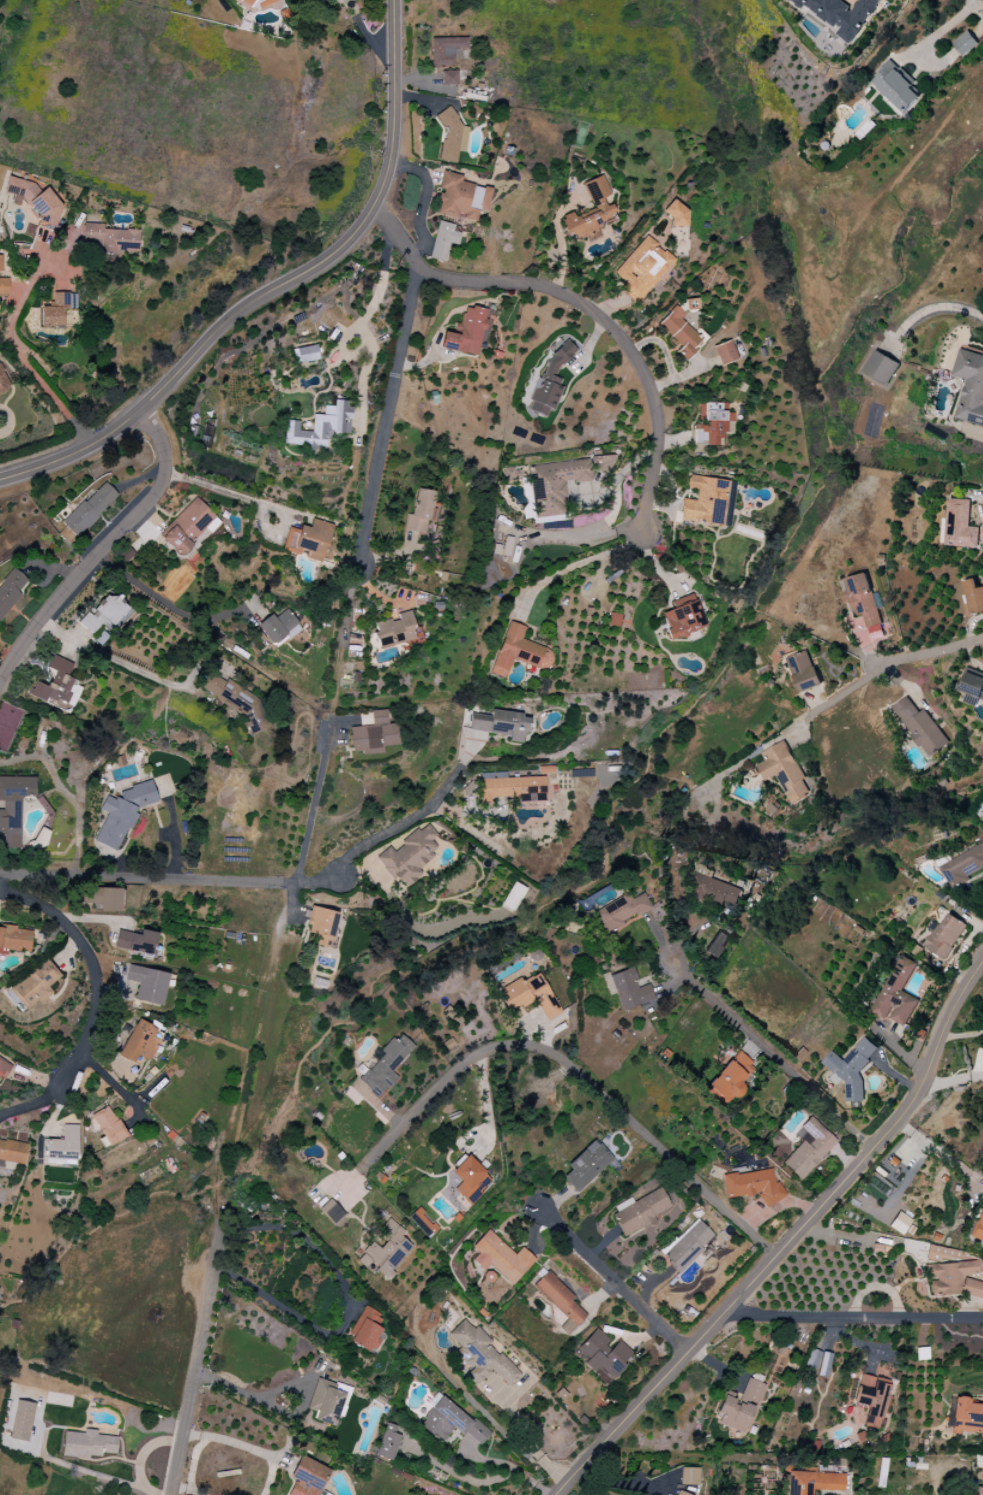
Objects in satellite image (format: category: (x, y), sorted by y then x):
building: (255, 4)
building: (841, 14)
road: (943, 30)
road: (364, 35)
building: (965, 43)
building: (445, 50)
building: (448, 78)
building: (895, 86)
building: (452, 138)
building: (461, 198)
building: (36, 199)
building: (588, 212)
building: (677, 215)
building: (109, 240)
building: (442, 241)
building: (0, 263)
building: (644, 269)
building: (4, 286)
road: (277, 289)
road: (585, 305)
road: (937, 306)
building: (56, 310)
building: (466, 332)
building: (679, 332)
building: (724, 353)
building: (305, 354)
road: (28, 363)
building: (880, 367)
building: (3, 381)
building: (549, 381)
building: (970, 387)
road: (384, 413)
building: (712, 424)
building: (320, 427)
building: (556, 485)
building: (708, 501)
building: (90, 509)
building: (420, 511)
building: (959, 525)
building: (189, 528)
building: (308, 540)
road: (102, 547)
road: (580, 563)
building: (974, 596)
road: (164, 600)
building: (863, 603)
building: (104, 613)
building: (682, 617)
building: (278, 627)
building: (395, 631)
road: (341, 640)
building: (519, 652)
road: (930, 653)
road: (108, 656)
road: (971, 659)
building: (803, 671)
building: (57, 686)
building: (972, 686)
road: (843, 694)
building: (237, 702)
building: (502, 725)
building: (920, 727)
building: (372, 733)
building: (784, 771)
building: (514, 789)
road: (312, 798)
building: (13, 808)
building: (121, 816)
road: (404, 821)
building: (409, 856)
building: (963, 866)
road: (169, 874)
building: (712, 888)
building: (512, 896)
building: (103, 898)
building: (620, 912)
building: (321, 925)
building: (945, 936)
building: (14, 940)
building: (136, 943)
building: (716, 944)
road: (93, 969)
building: (147, 984)
building: (35, 985)
building: (629, 990)
building: (897, 994)
building: (529, 996)
road: (962, 1034)
building: (141, 1042)
road: (772, 1055)
road: (566, 1064)
building: (384, 1066)
building: (4, 1068)
building: (851, 1068)
road: (952, 1079)
building: (728, 1081)
road: (31, 1105)
building: (108, 1126)
building: (63, 1147)
building: (808, 1148)
building: (12, 1151)
building: (587, 1166)
building: (470, 1180)
building: (753, 1186)
building: (639, 1211)
building: (899, 1223)
building: (978, 1228)
road: (790, 1242)
building: (687, 1246)
building: (386, 1251)
building: (501, 1258)
building: (951, 1273)
road: (612, 1281)
building: (559, 1301)
road: (347, 1305)
road: (850, 1320)
building: (365, 1330)
road: (858, 1341)
road: (198, 1353)
building: (604, 1354)
building: (921, 1354)
building: (481, 1355)
building: (818, 1362)
building: (740, 1405)
road: (279, 1411)
building: (966, 1417)
building: (22, 1421)
building: (451, 1422)
road: (524, 1432)
building: (388, 1443)
building: (87, 1444)
road: (144, 1459)
road: (511, 1469)
building: (689, 1476)
building: (307, 1477)
building: (813, 1482)
building: (977, 1491)
building: (680, 1493)

